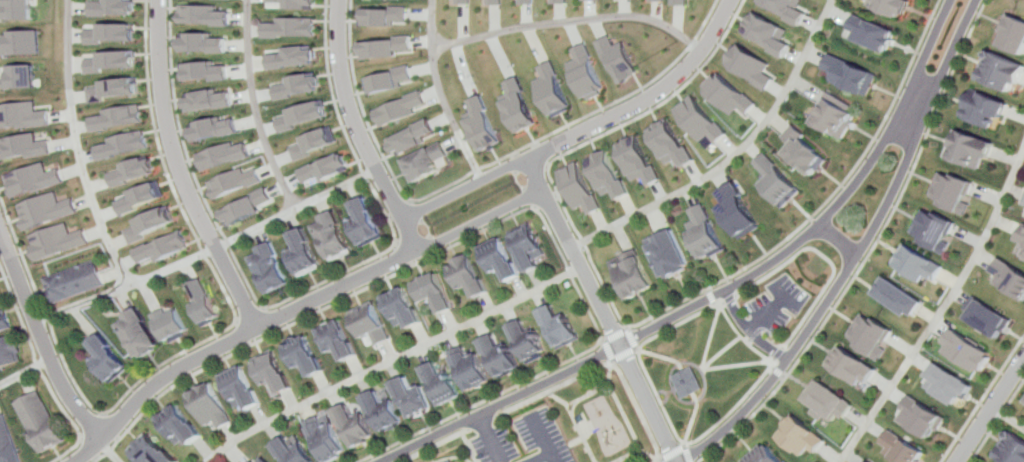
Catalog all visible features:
building: (589, 0)
building: (656, 0)
building: (462, 2)
building: (494, 2)
building: (526, 2)
building: (559, 2)
building: (677, 2)
building: (295, 4)
building: (111, 7)
building: (891, 7)
building: (786, 9)
building: (17, 10)
building: (204, 15)
building: (380, 15)
road: (567, 21)
building: (290, 27)
building: (111, 33)
building: (766, 33)
building: (872, 33)
building: (1012, 34)
building: (22, 43)
building: (204, 43)
building: (383, 47)
road: (927, 49)
road: (950, 52)
building: (292, 57)
building: (618, 58)
building: (112, 60)
building: (751, 65)
building: (204, 71)
building: (1002, 71)
building: (585, 73)
building: (849, 74)
building: (20, 77)
building: (387, 80)
building: (296, 86)
building: (113, 89)
building: (552, 89)
road: (437, 93)
building: (730, 95)
road: (646, 99)
building: (209, 100)
road: (919, 103)
building: (518, 107)
road: (254, 108)
building: (398, 108)
building: (989, 110)
building: (23, 115)
building: (302, 116)
building: (120, 117)
building: (841, 117)
building: (701, 120)
building: (480, 124)
building: (215, 128)
road: (356, 130)
building: (410, 137)
building: (313, 143)
building: (673, 143)
building: (124, 145)
road: (583, 145)
building: (26, 146)
road: (80, 146)
building: (977, 150)
building: (807, 151)
road: (540, 154)
building: (224, 156)
road: (733, 156)
building: (640, 160)
road: (512, 161)
building: (424, 162)
road: (480, 166)
road: (869, 166)
building: (324, 168)
road: (182, 171)
building: (134, 172)
building: (610, 175)
building: (34, 179)
road: (516, 181)
building: (780, 181)
building: (235, 182)
road: (899, 182)
road: (462, 186)
building: (579, 188)
building: (958, 192)
building: (142, 197)
road: (529, 197)
road: (546, 199)
road: (825, 206)
building: (247, 207)
road: (396, 208)
road: (535, 208)
building: (46, 210)
road: (411, 210)
building: (741, 211)
road: (477, 220)
building: (361, 224)
building: (150, 225)
road: (424, 226)
building: (939, 230)
building: (707, 232)
building: (331, 238)
road: (839, 240)
building: (58, 241)
road: (429, 245)
building: (1021, 246)
building: (163, 247)
building: (526, 247)
road: (206, 251)
road: (872, 252)
building: (671, 253)
road: (401, 254)
building: (302, 255)
road: (829, 258)
building: (499, 260)
building: (919, 263)
building: (268, 269)
building: (633, 275)
building: (1010, 276)
building: (464, 278)
building: (74, 283)
road: (366, 286)
building: (429, 292)
road: (297, 293)
building: (0, 297)
building: (900, 297)
road: (733, 298)
building: (200, 301)
road: (726, 303)
parking lot: (781, 304)
building: (400, 309)
road: (600, 311)
road: (770, 313)
road: (944, 313)
building: (989, 318)
building: (3, 321)
building: (166, 323)
building: (369, 324)
building: (555, 327)
road: (754, 331)
road: (612, 333)
building: (136, 334)
building: (872, 335)
road: (715, 337)
road: (40, 338)
road: (630, 338)
road: (231, 340)
road: (200, 341)
building: (336, 343)
building: (523, 343)
road: (604, 349)
building: (9, 351)
road: (604, 351)
building: (969, 351)
road: (727, 352)
road: (781, 354)
road: (623, 355)
road: (659, 355)
building: (498, 357)
building: (304, 358)
building: (103, 359)
road: (388, 360)
road: (600, 363)
road: (741, 364)
building: (855, 366)
road: (776, 367)
road: (36, 370)
building: (469, 372)
road: (606, 372)
road: (782, 372)
road: (783, 372)
road: (24, 373)
building: (271, 375)
building: (690, 382)
road: (761, 384)
building: (949, 384)
building: (442, 386)
building: (239, 390)
road: (669, 392)
road: (665, 393)
road: (676, 394)
road: (553, 398)
road: (982, 399)
building: (412, 400)
road: (481, 402)
building: (830, 402)
building: (205, 407)
road: (616, 409)
road: (990, 411)
building: (383, 414)
building: (924, 417)
road: (1008, 417)
road: (997, 421)
building: (37, 422)
road: (693, 422)
road: (479, 423)
building: (172, 427)
building: (354, 429)
road: (576, 433)
road: (537, 437)
building: (804, 437)
road: (487, 438)
parking lot: (520, 441)
building: (324, 442)
road: (571, 442)
building: (6, 443)
road: (433, 445)
road: (469, 447)
building: (902, 448)
building: (1011, 449)
road: (107, 450)
building: (145, 451)
road: (670, 451)
building: (290, 453)
road: (646, 453)
road: (687, 453)
building: (773, 456)
road: (536, 458)
building: (262, 460)
road: (658, 460)
building: (249, 461)
building: (450, 461)
building: (869, 461)

